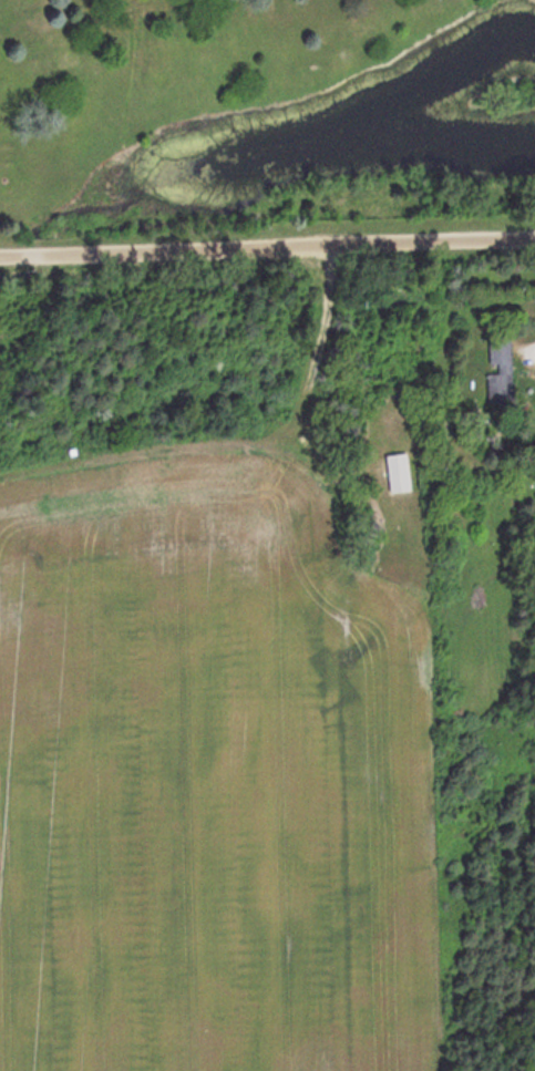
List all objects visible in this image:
road: (267, 240)
building: (504, 369)
building: (402, 473)

